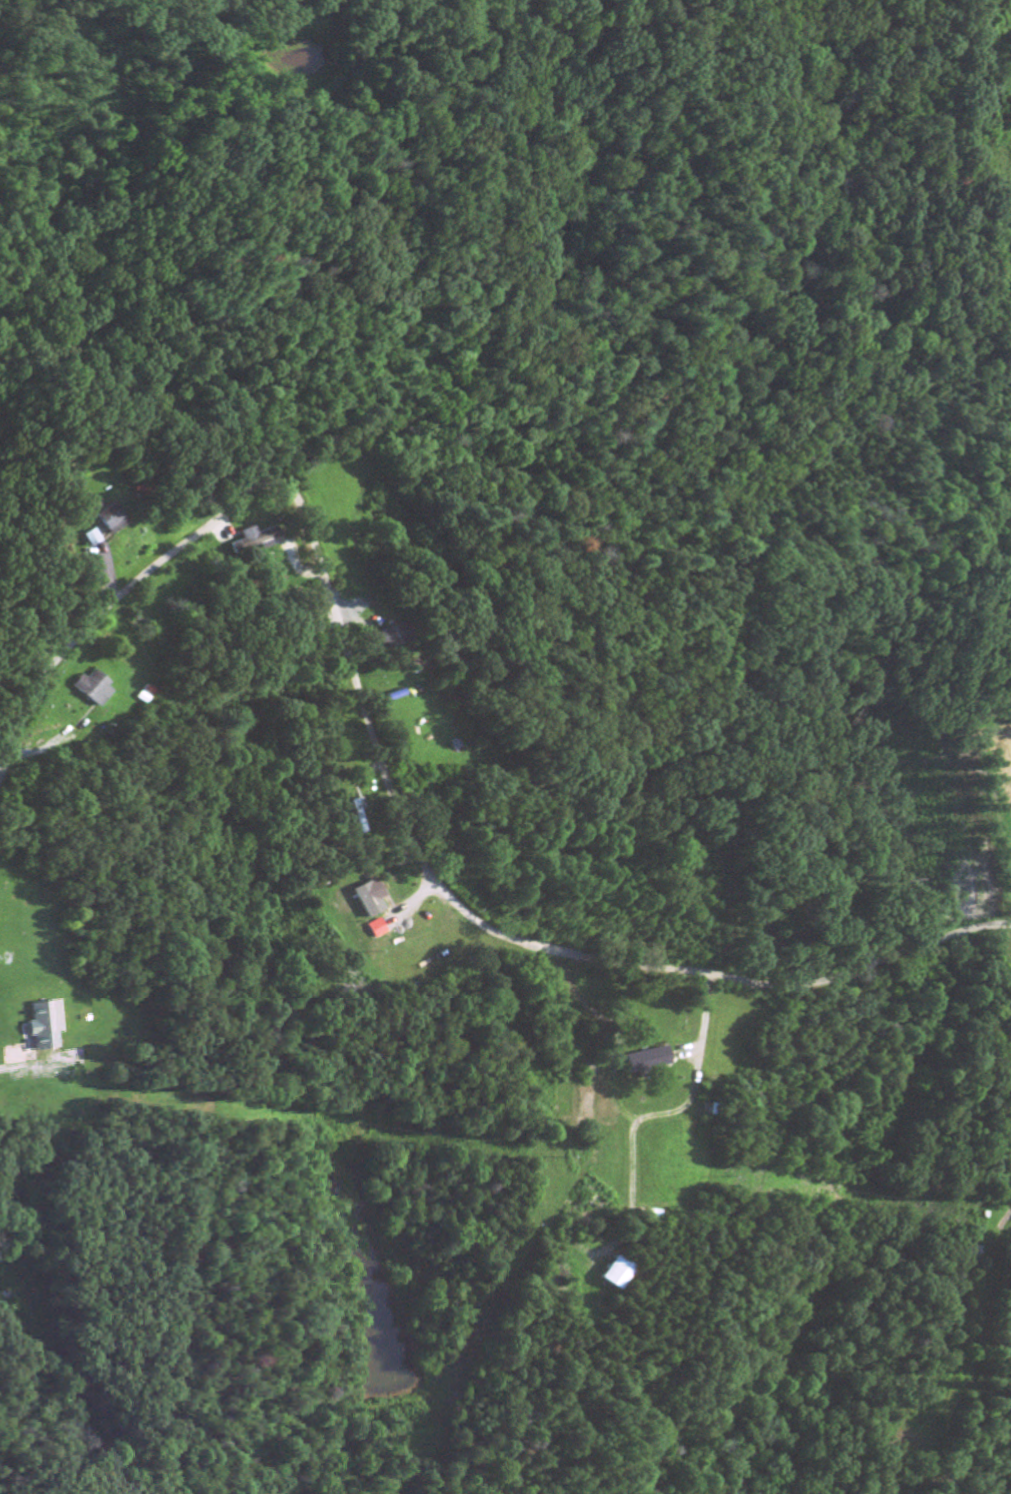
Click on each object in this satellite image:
road: (252, 487)
building: (112, 520)
building: (92, 540)
building: (252, 542)
building: (387, 640)
building: (92, 690)
building: (390, 923)
road: (496, 934)
building: (44, 1028)
building: (647, 1062)
road: (20, 1071)
road: (979, 1385)

